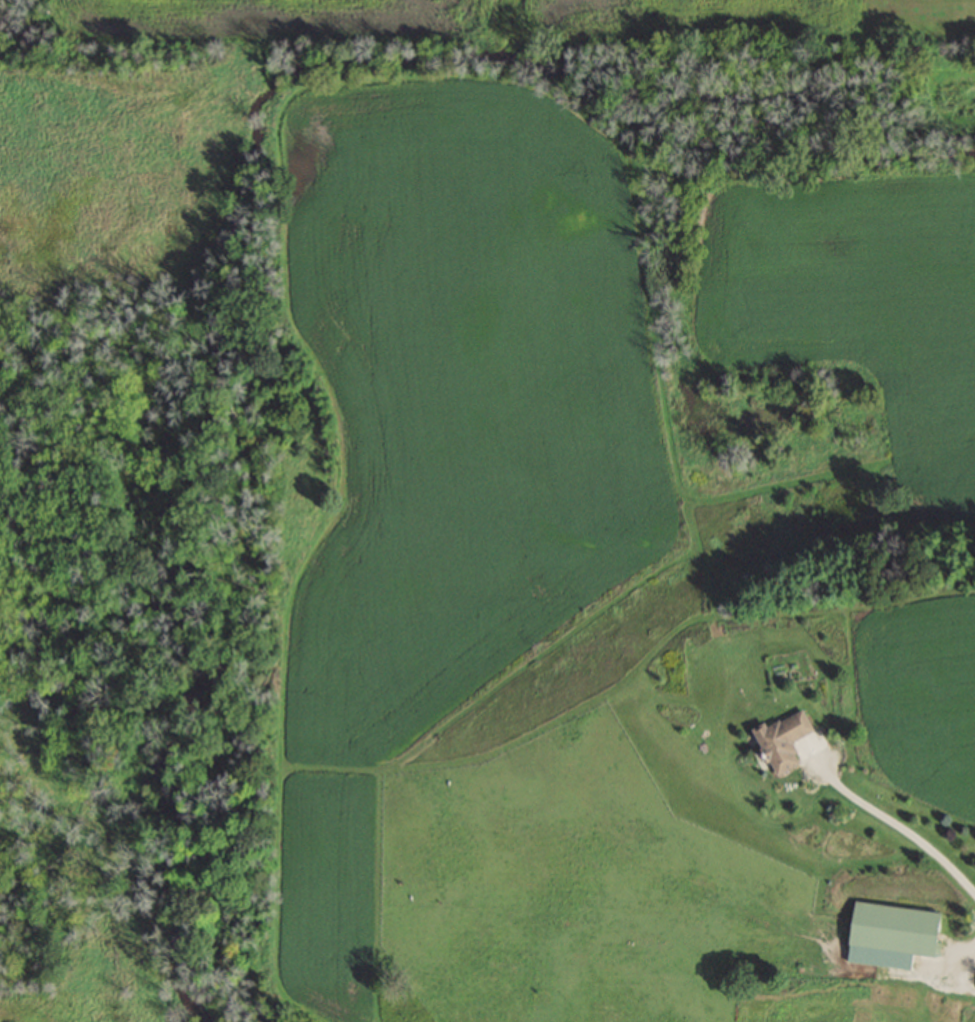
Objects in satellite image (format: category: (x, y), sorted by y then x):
building: (779, 739)
road: (902, 822)
building: (889, 928)
building: (528, 1008)

